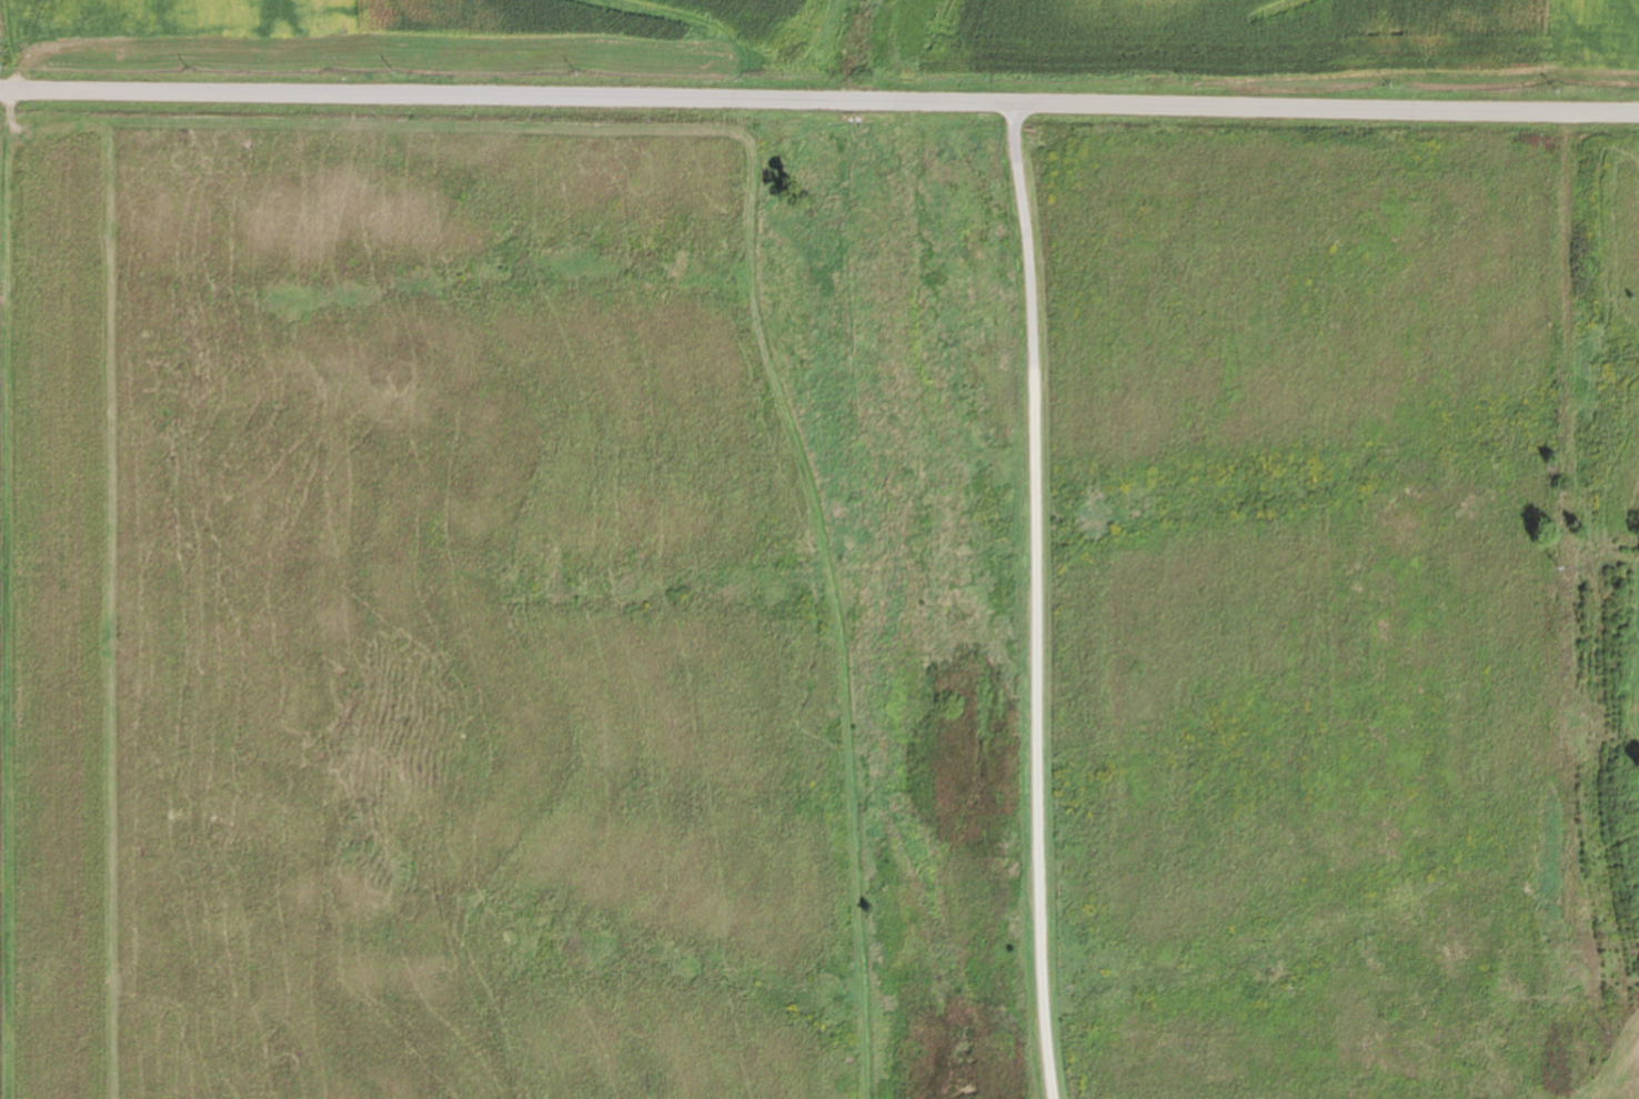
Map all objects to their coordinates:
road: (818, 102)
road: (10, 595)
road: (826, 596)
road: (1040, 602)
road: (1575, 605)

